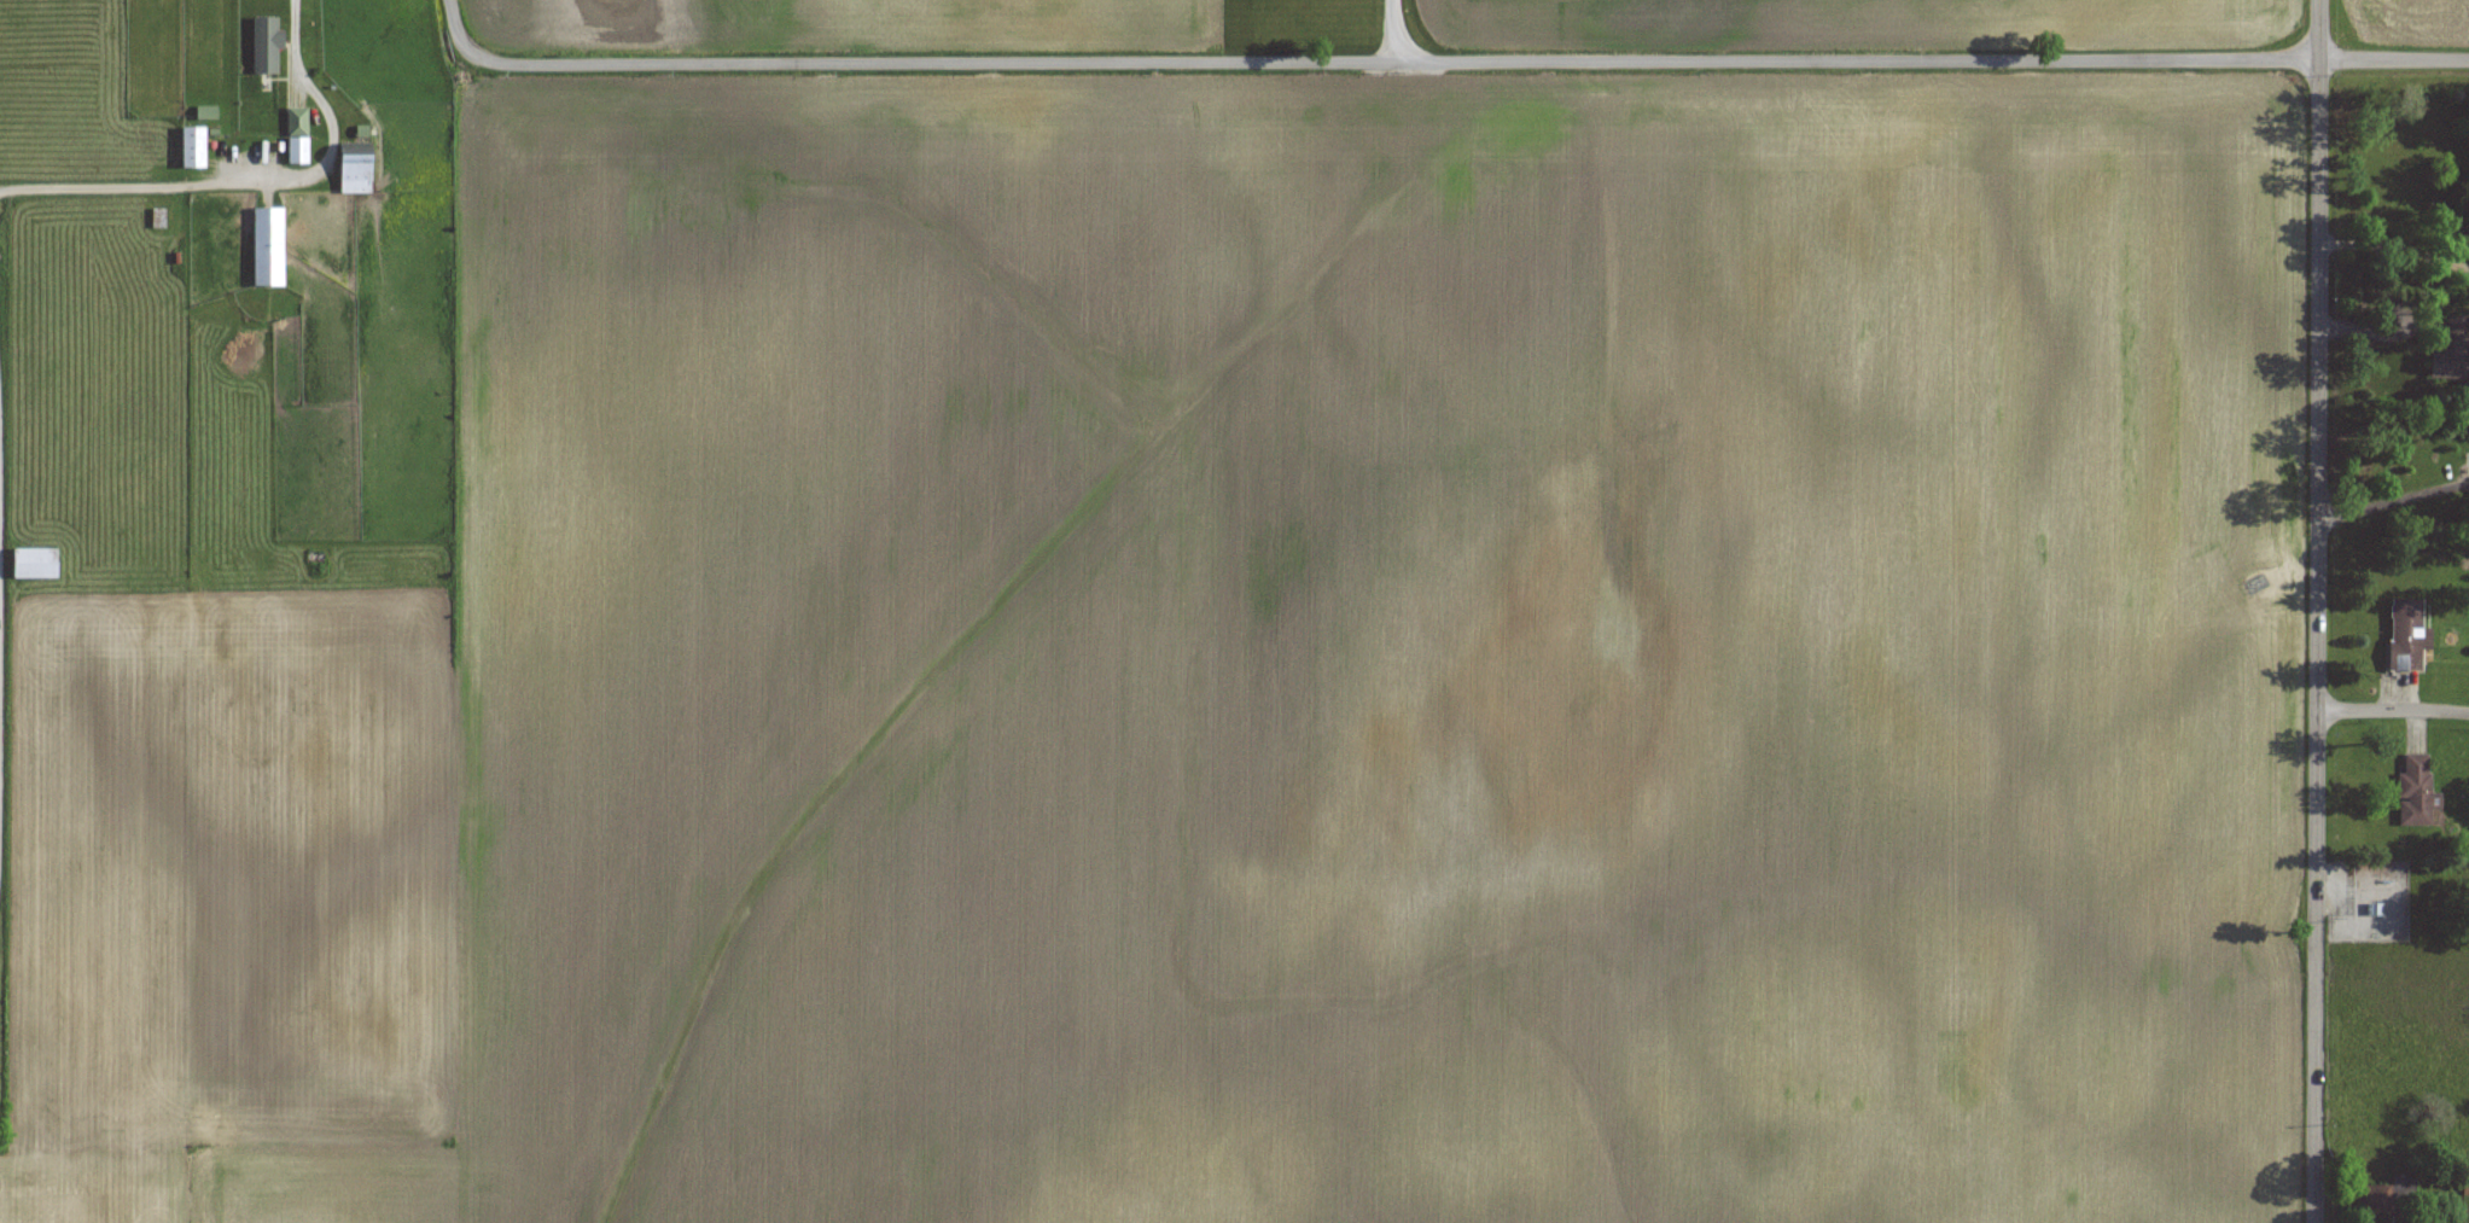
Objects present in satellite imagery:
road: (1393, 30)
building: (266, 45)
road: (1439, 60)
building: (297, 135)
building: (192, 146)
road: (321, 158)
building: (355, 173)
road: (2395, 245)
building: (267, 246)
road: (2378, 330)
building: (2452, 351)
road: (2392, 496)
building: (35, 563)
road: (2318, 611)
building: (2407, 635)
road: (2393, 709)
building: (2465, 1182)
building: (2382, 1199)

